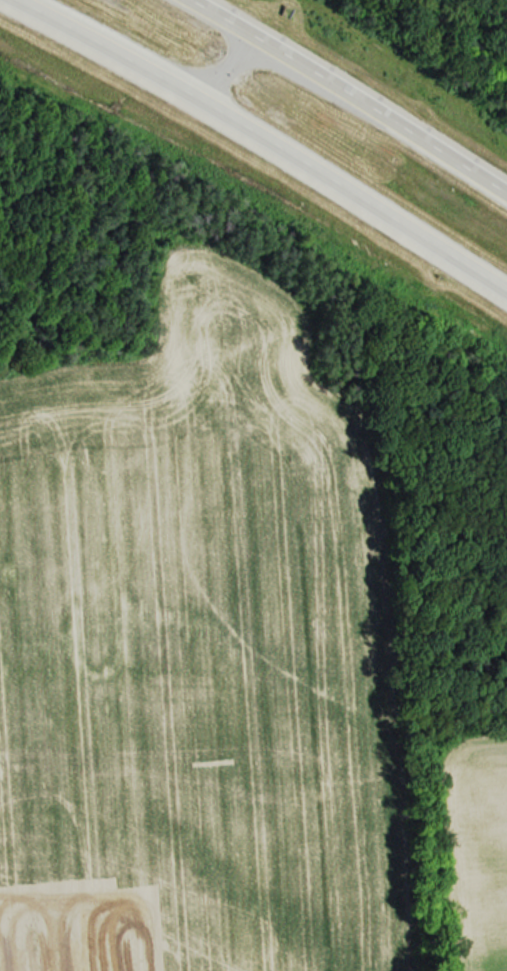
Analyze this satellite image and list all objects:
road: (348, 96)
road: (262, 139)

